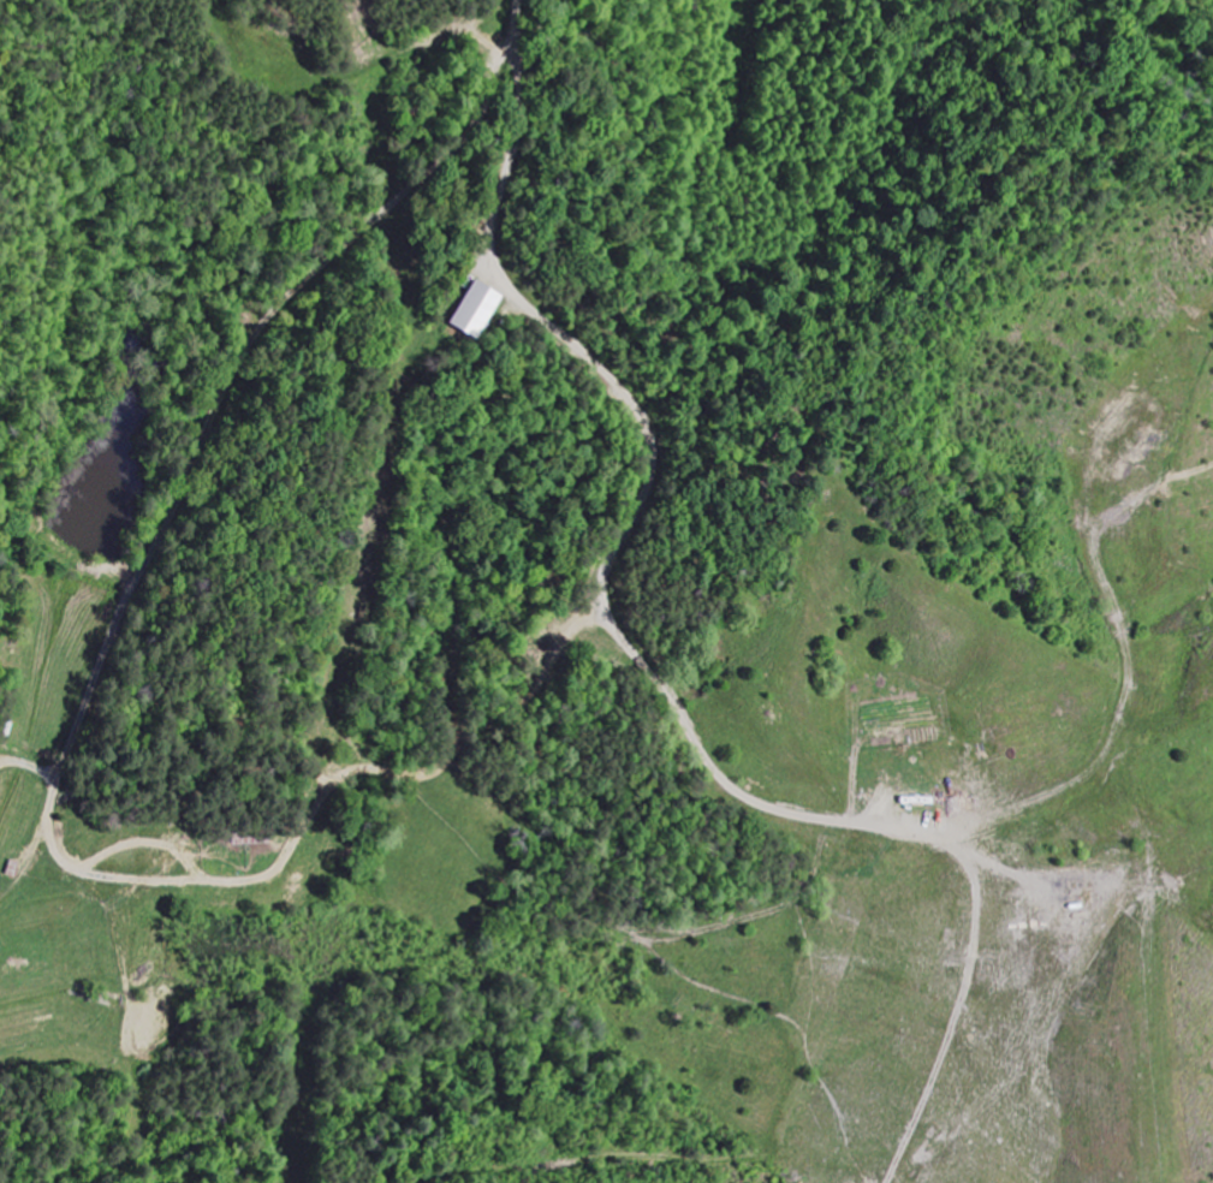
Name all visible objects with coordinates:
building: (477, 309)
landfill: (989, 974)

